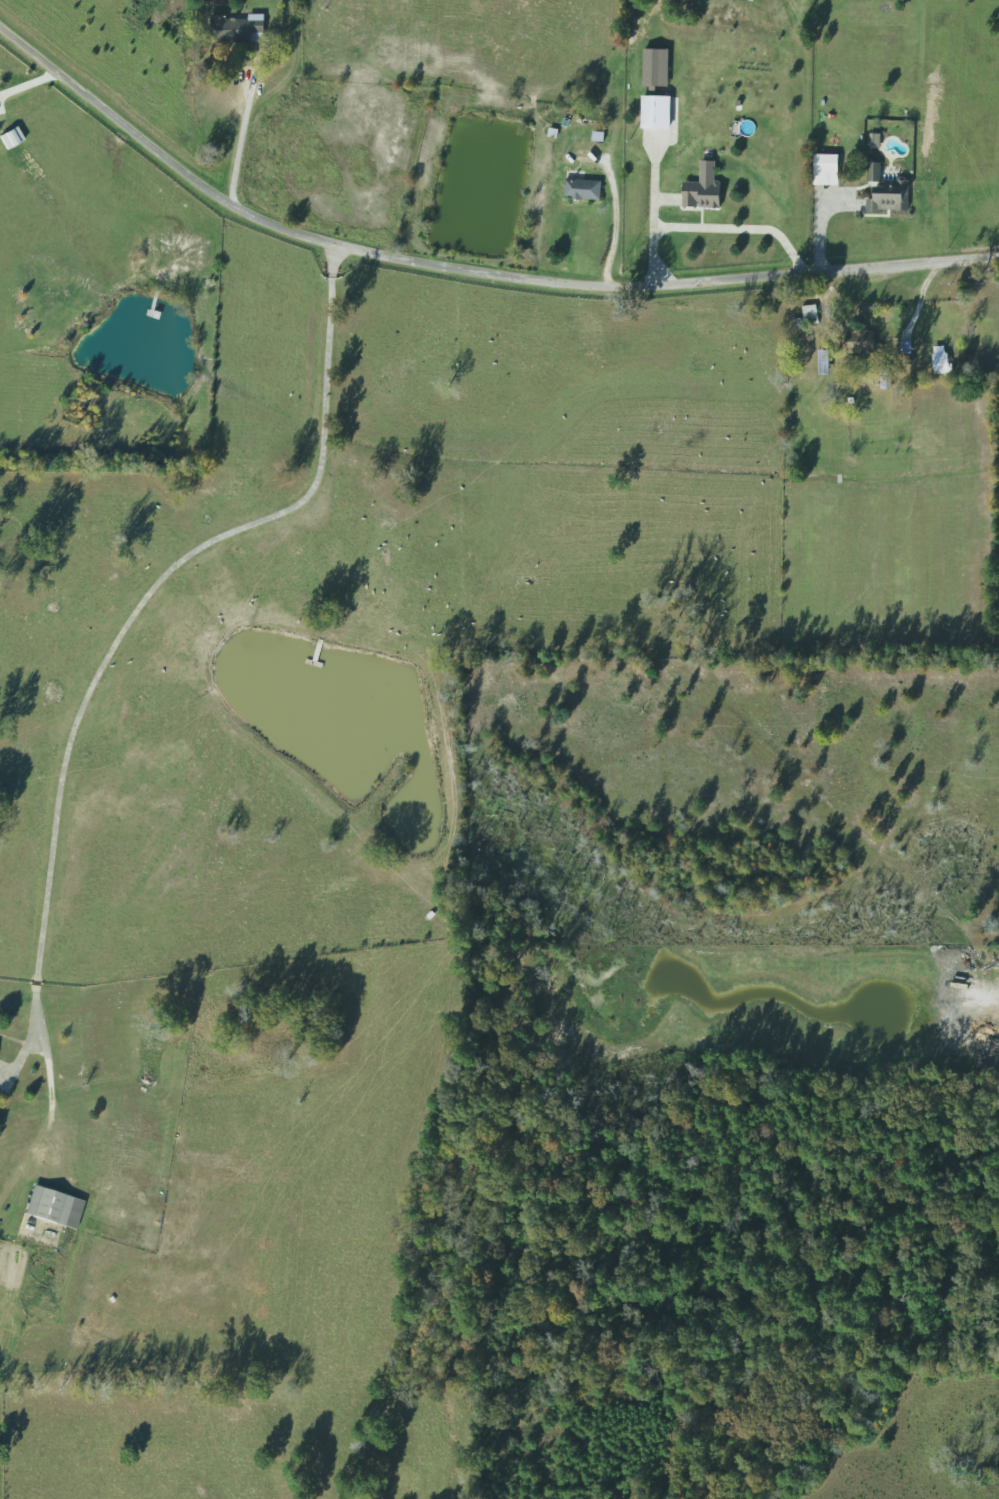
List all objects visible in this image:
building: (252, 28)
building: (655, 112)
building: (824, 170)
building: (590, 182)
building: (886, 192)
building: (701, 193)
road: (464, 268)
building: (804, 318)
building: (860, 344)
building: (822, 363)
building: (939, 364)
building: (61, 1205)

